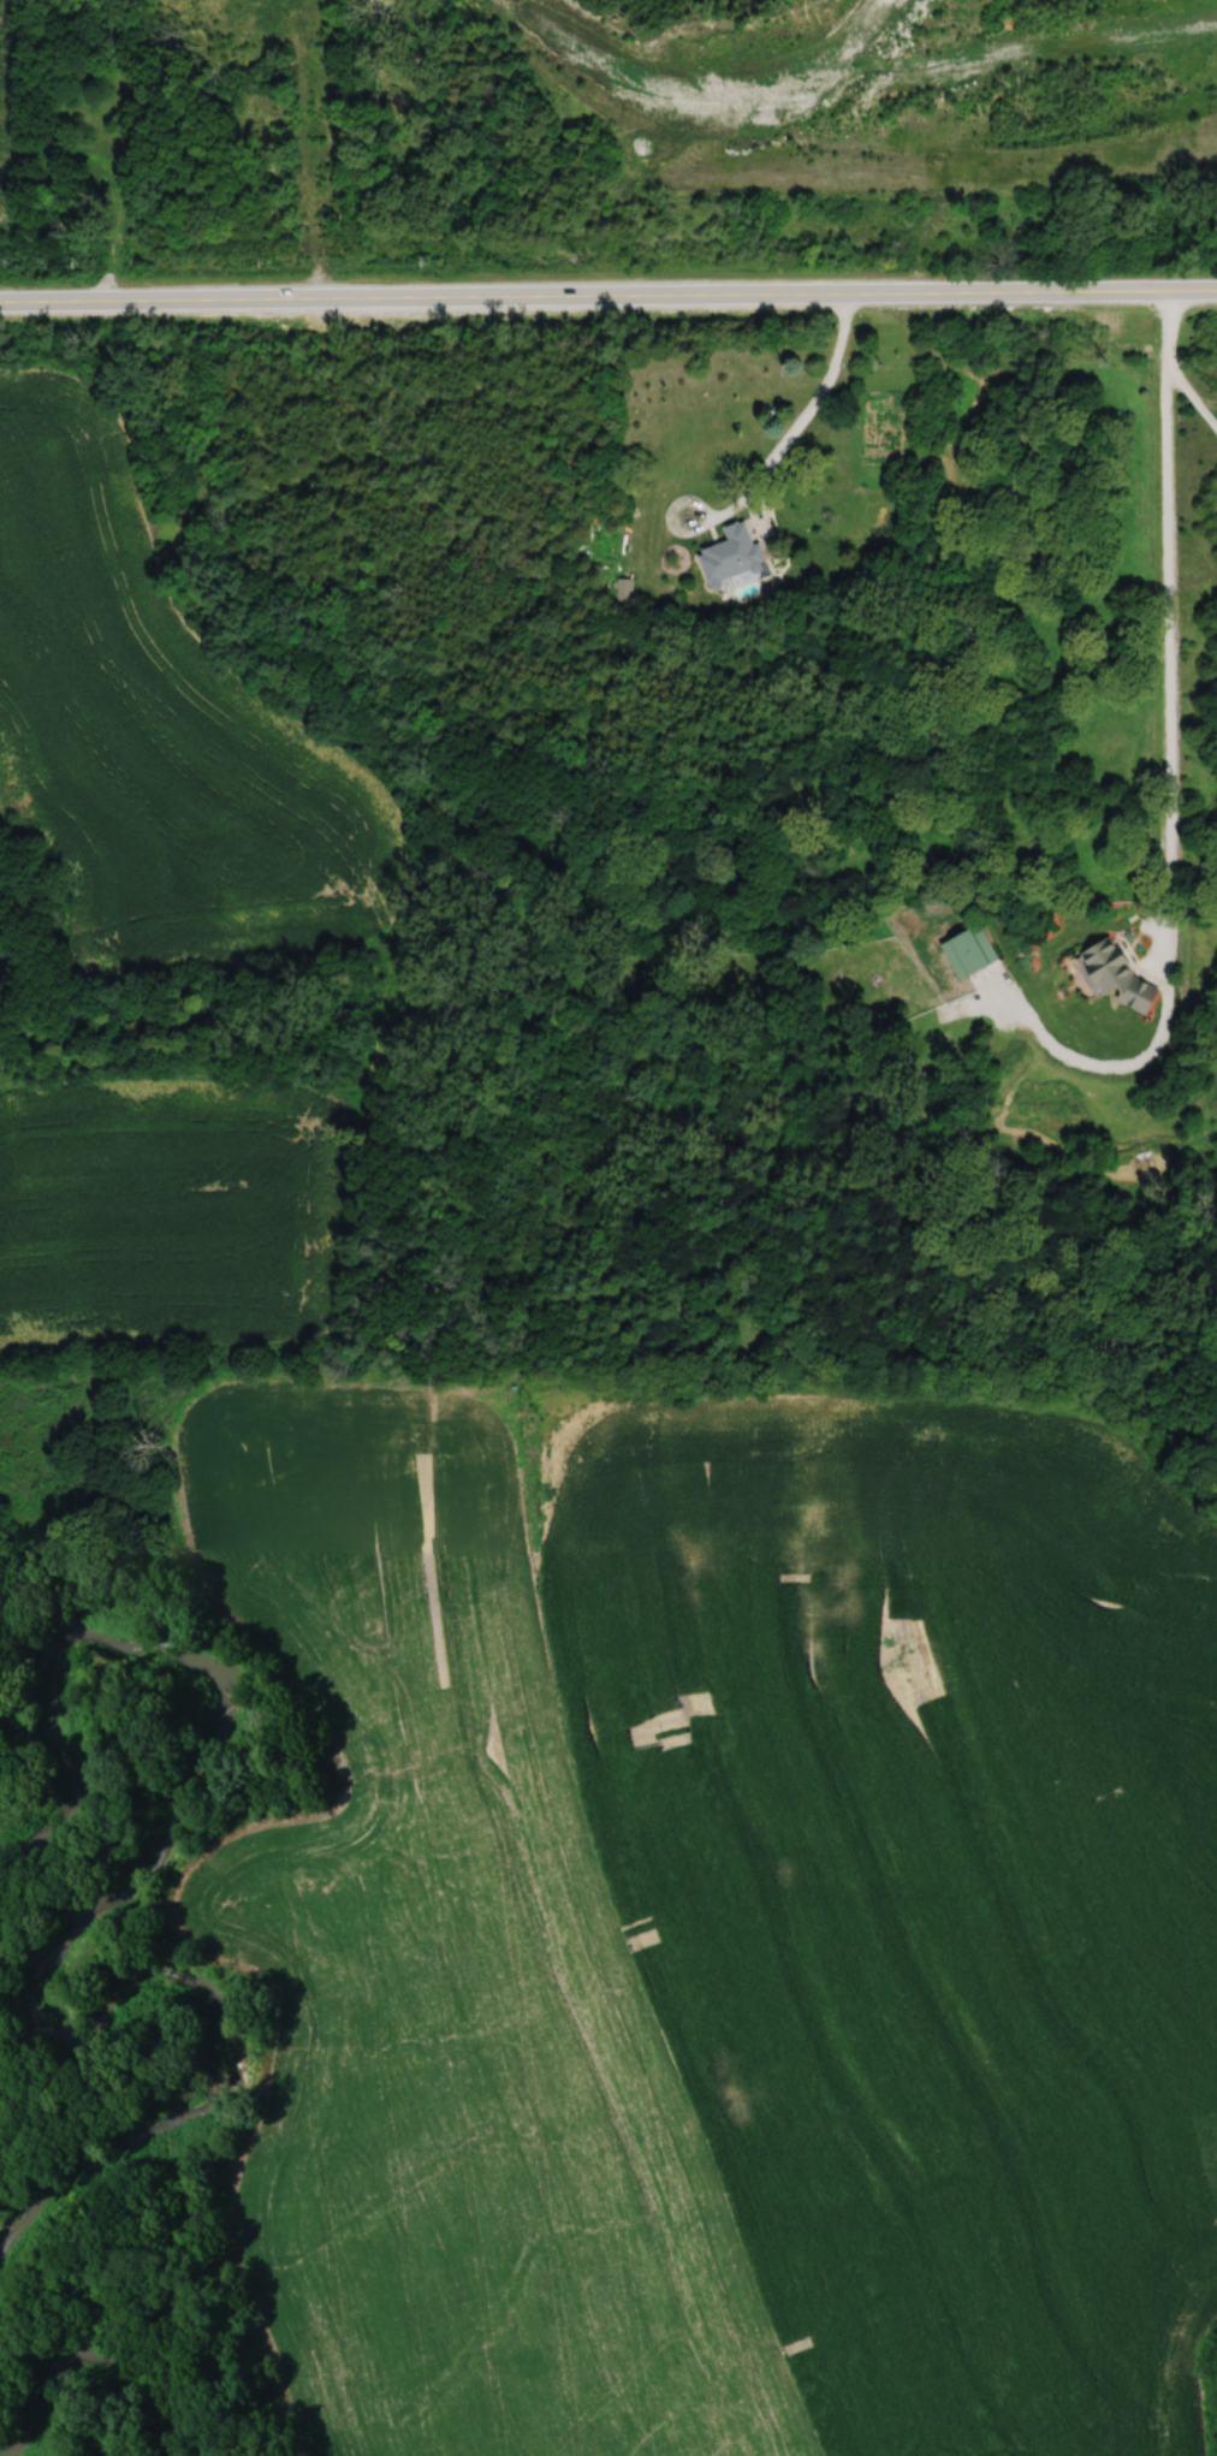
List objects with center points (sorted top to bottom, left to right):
road: (308, 147)
road: (608, 291)
road: (1189, 393)
road: (809, 416)
road: (675, 530)
building: (730, 553)
road: (1168, 612)
building: (969, 950)
building: (1103, 969)
road: (1132, 1066)
river: (115, 1905)
river: (111, 2361)

